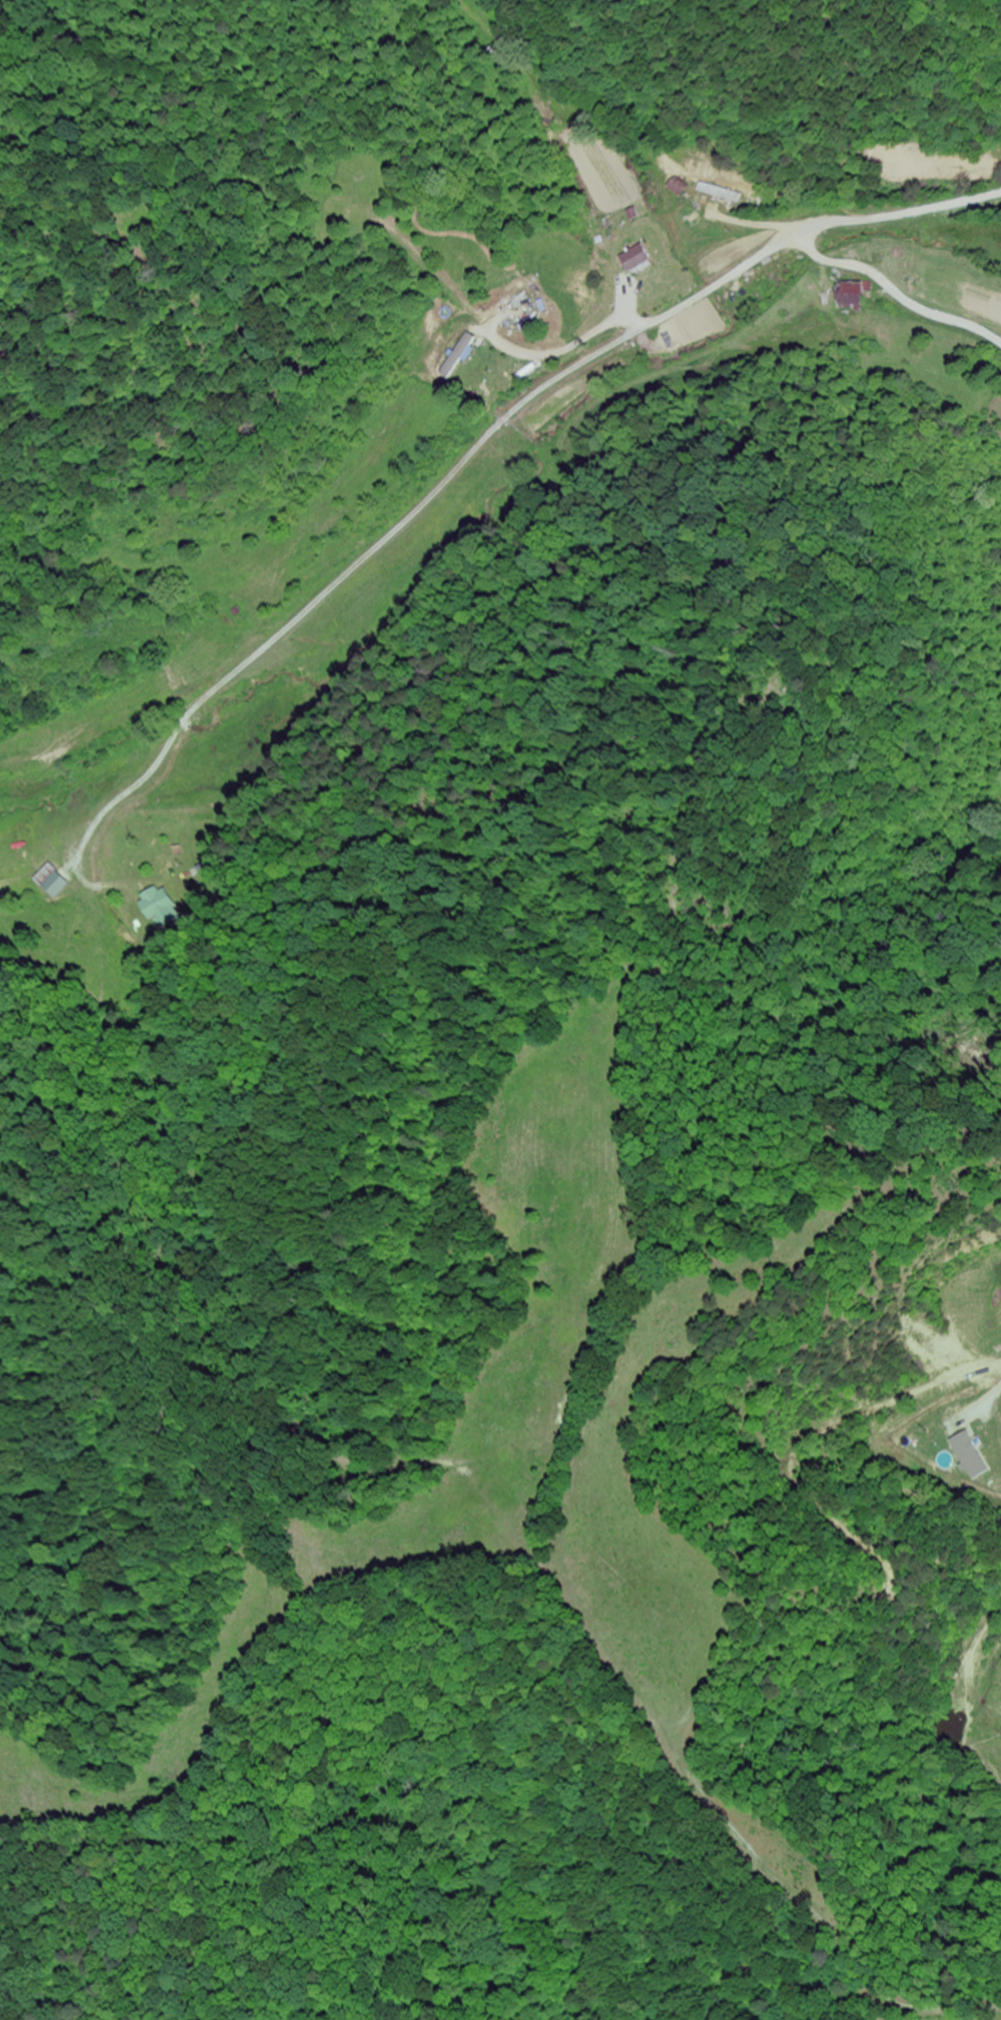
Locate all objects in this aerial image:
building: (675, 186)
building: (714, 192)
building: (635, 260)
road: (740, 269)
building: (849, 294)
building: (451, 355)
building: (58, 884)
building: (163, 908)

